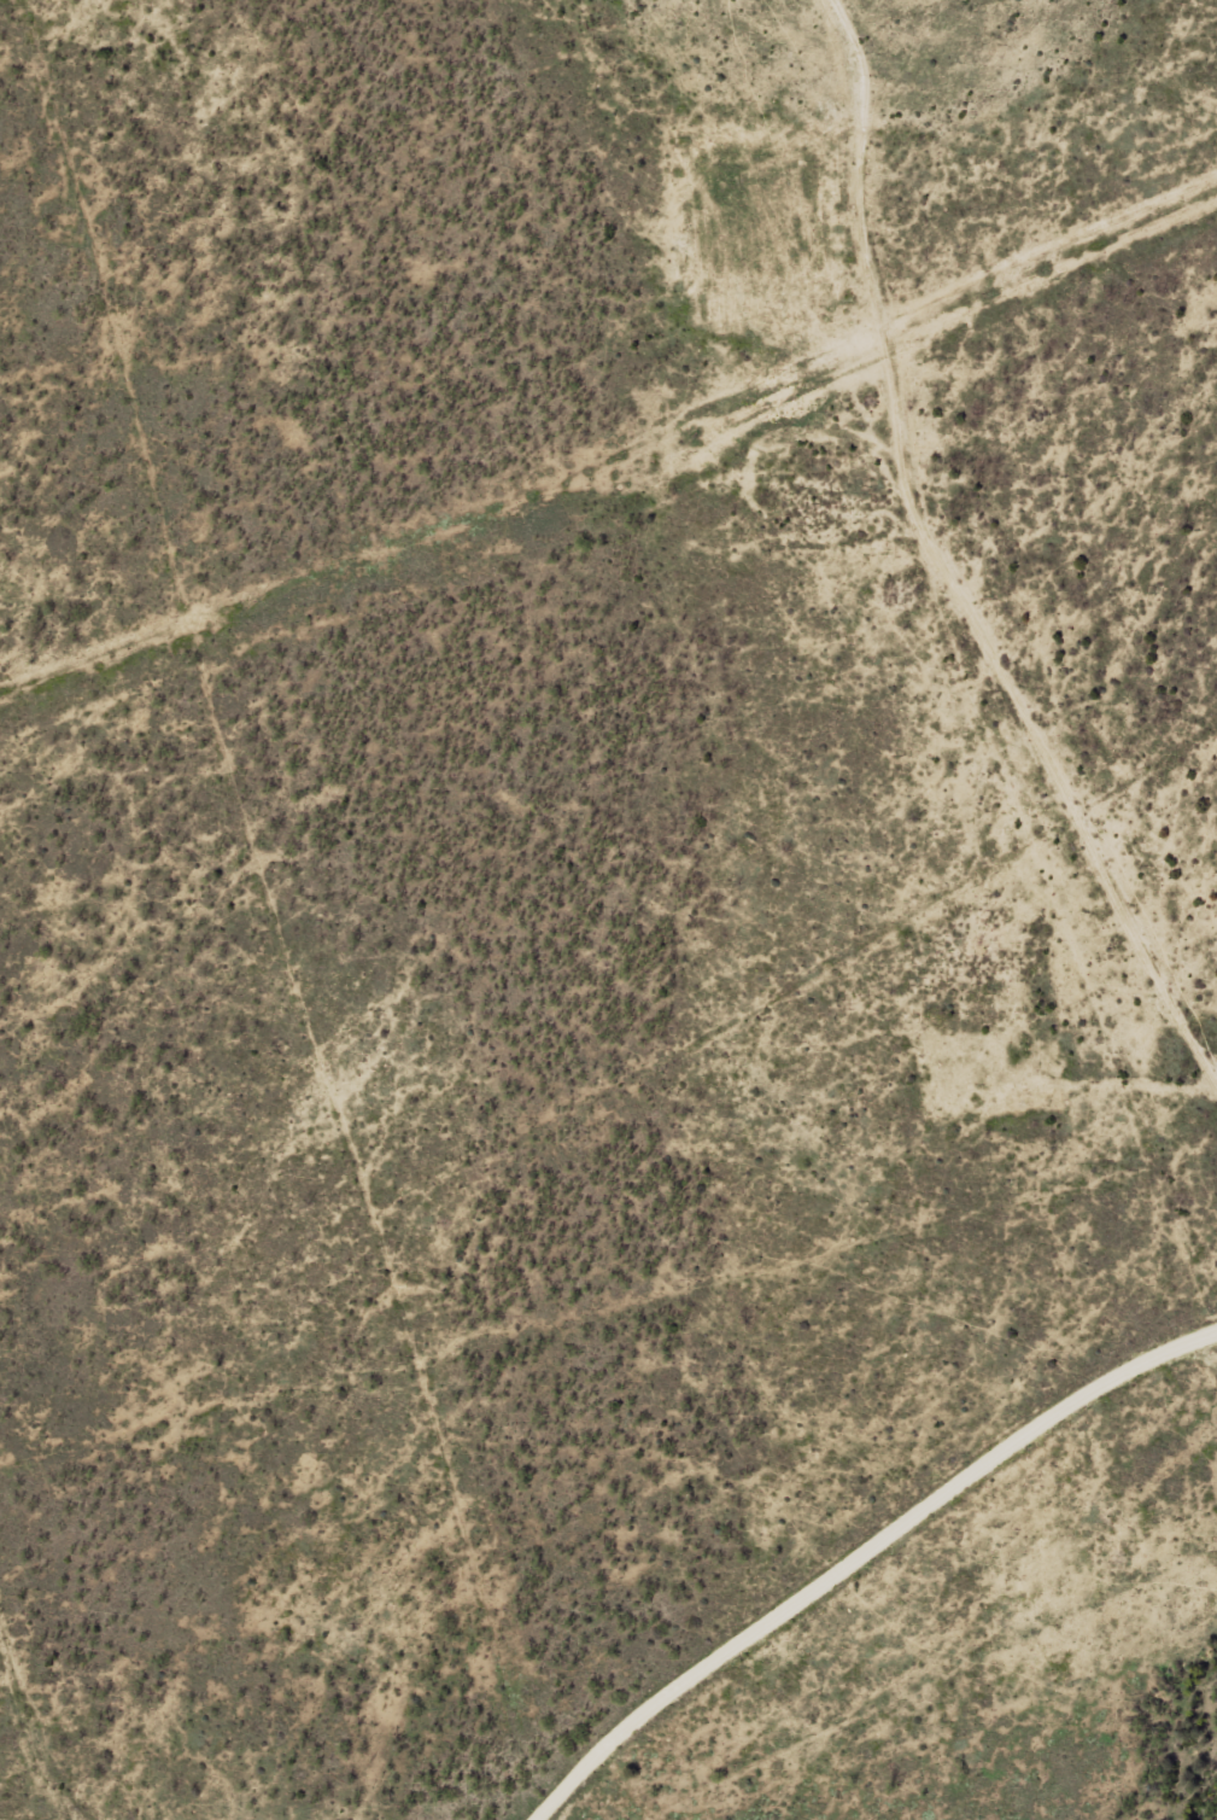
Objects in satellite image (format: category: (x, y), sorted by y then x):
road: (955, 559)
road: (876, 1559)
road: (34, 1739)

